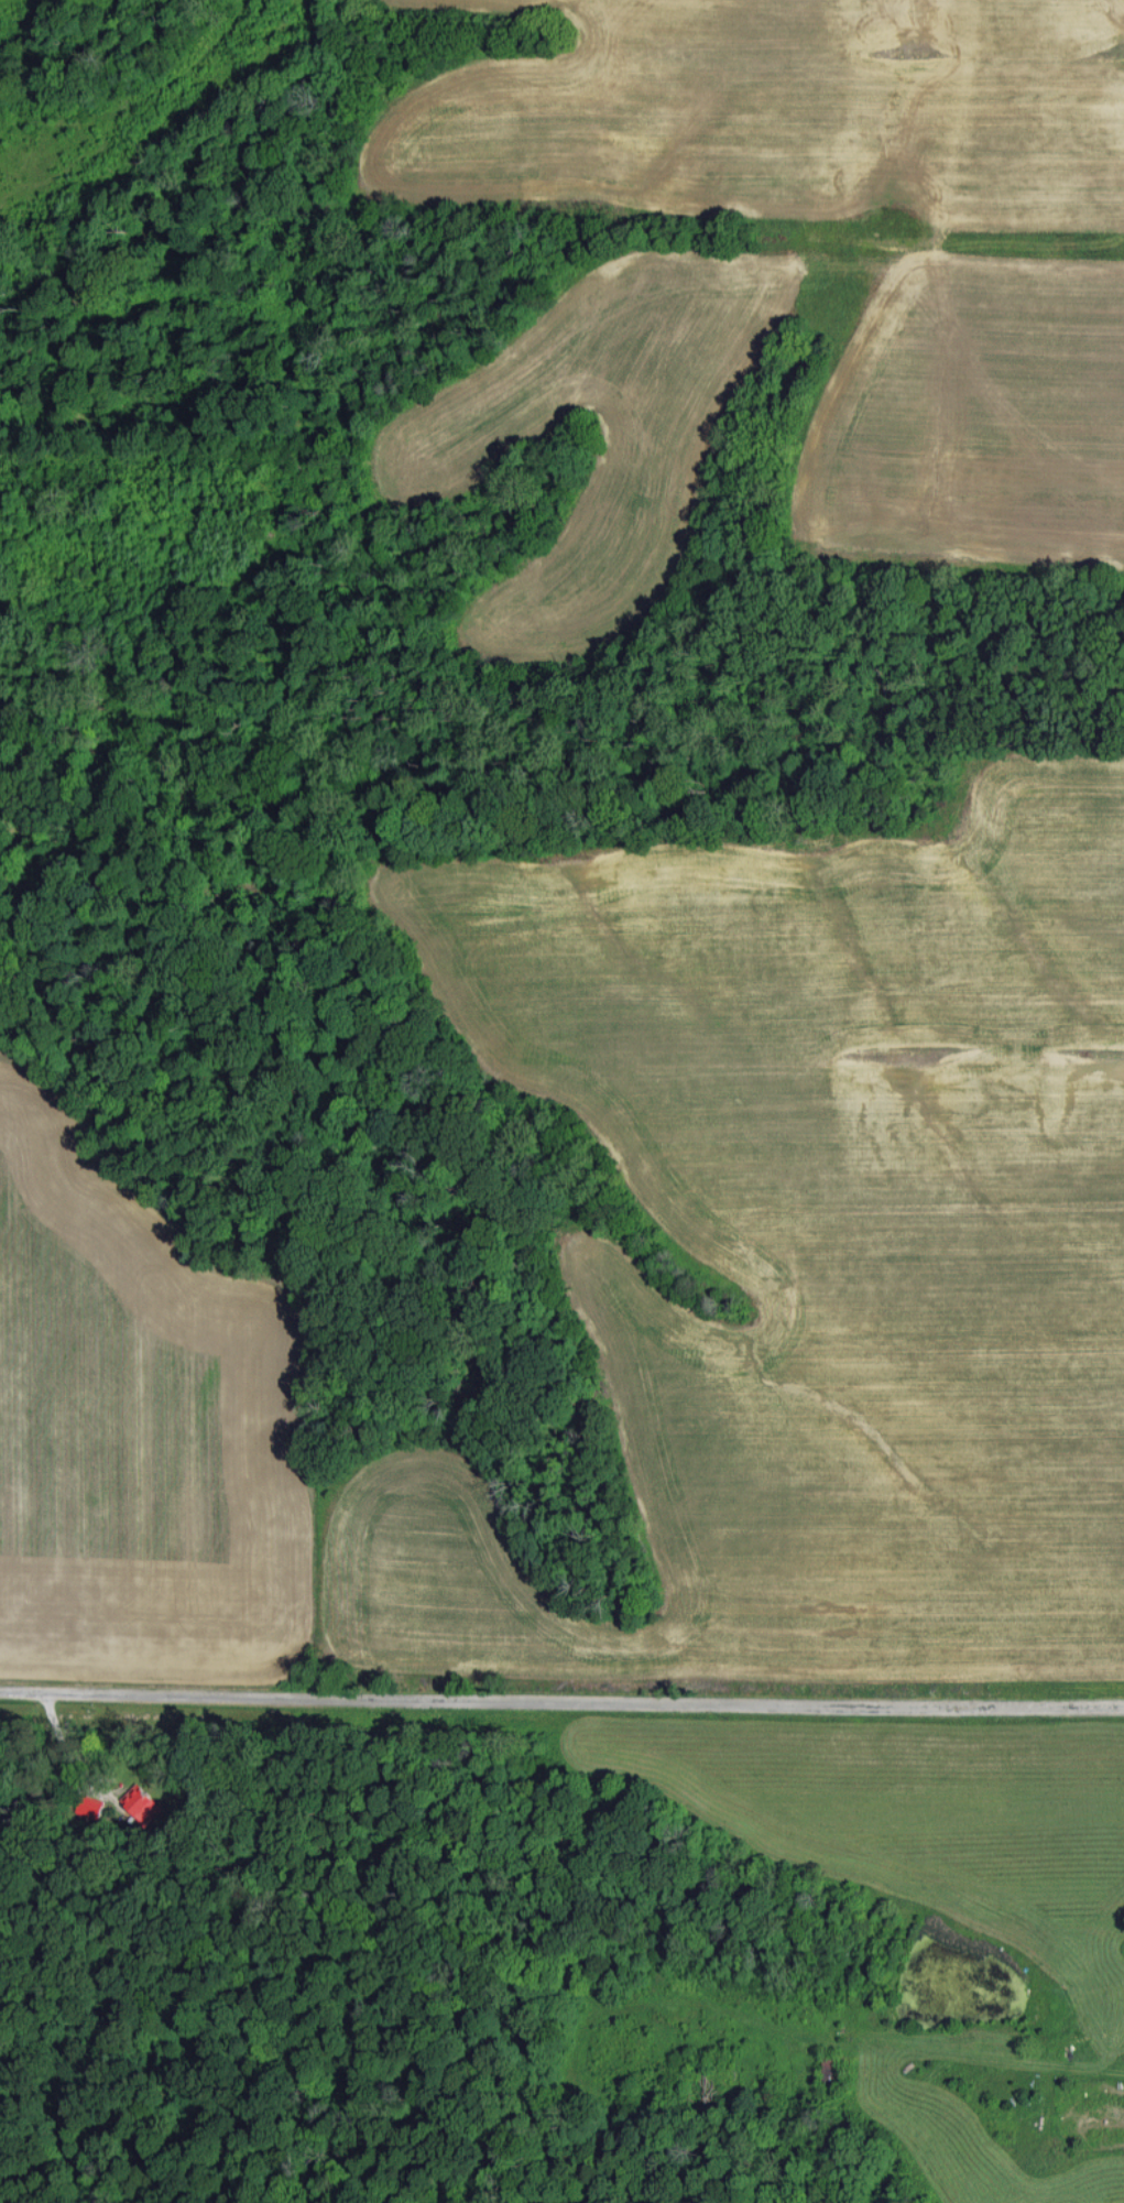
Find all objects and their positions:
road: (561, 1694)
building: (141, 1807)
road: (880, 2041)
road: (1022, 2051)

